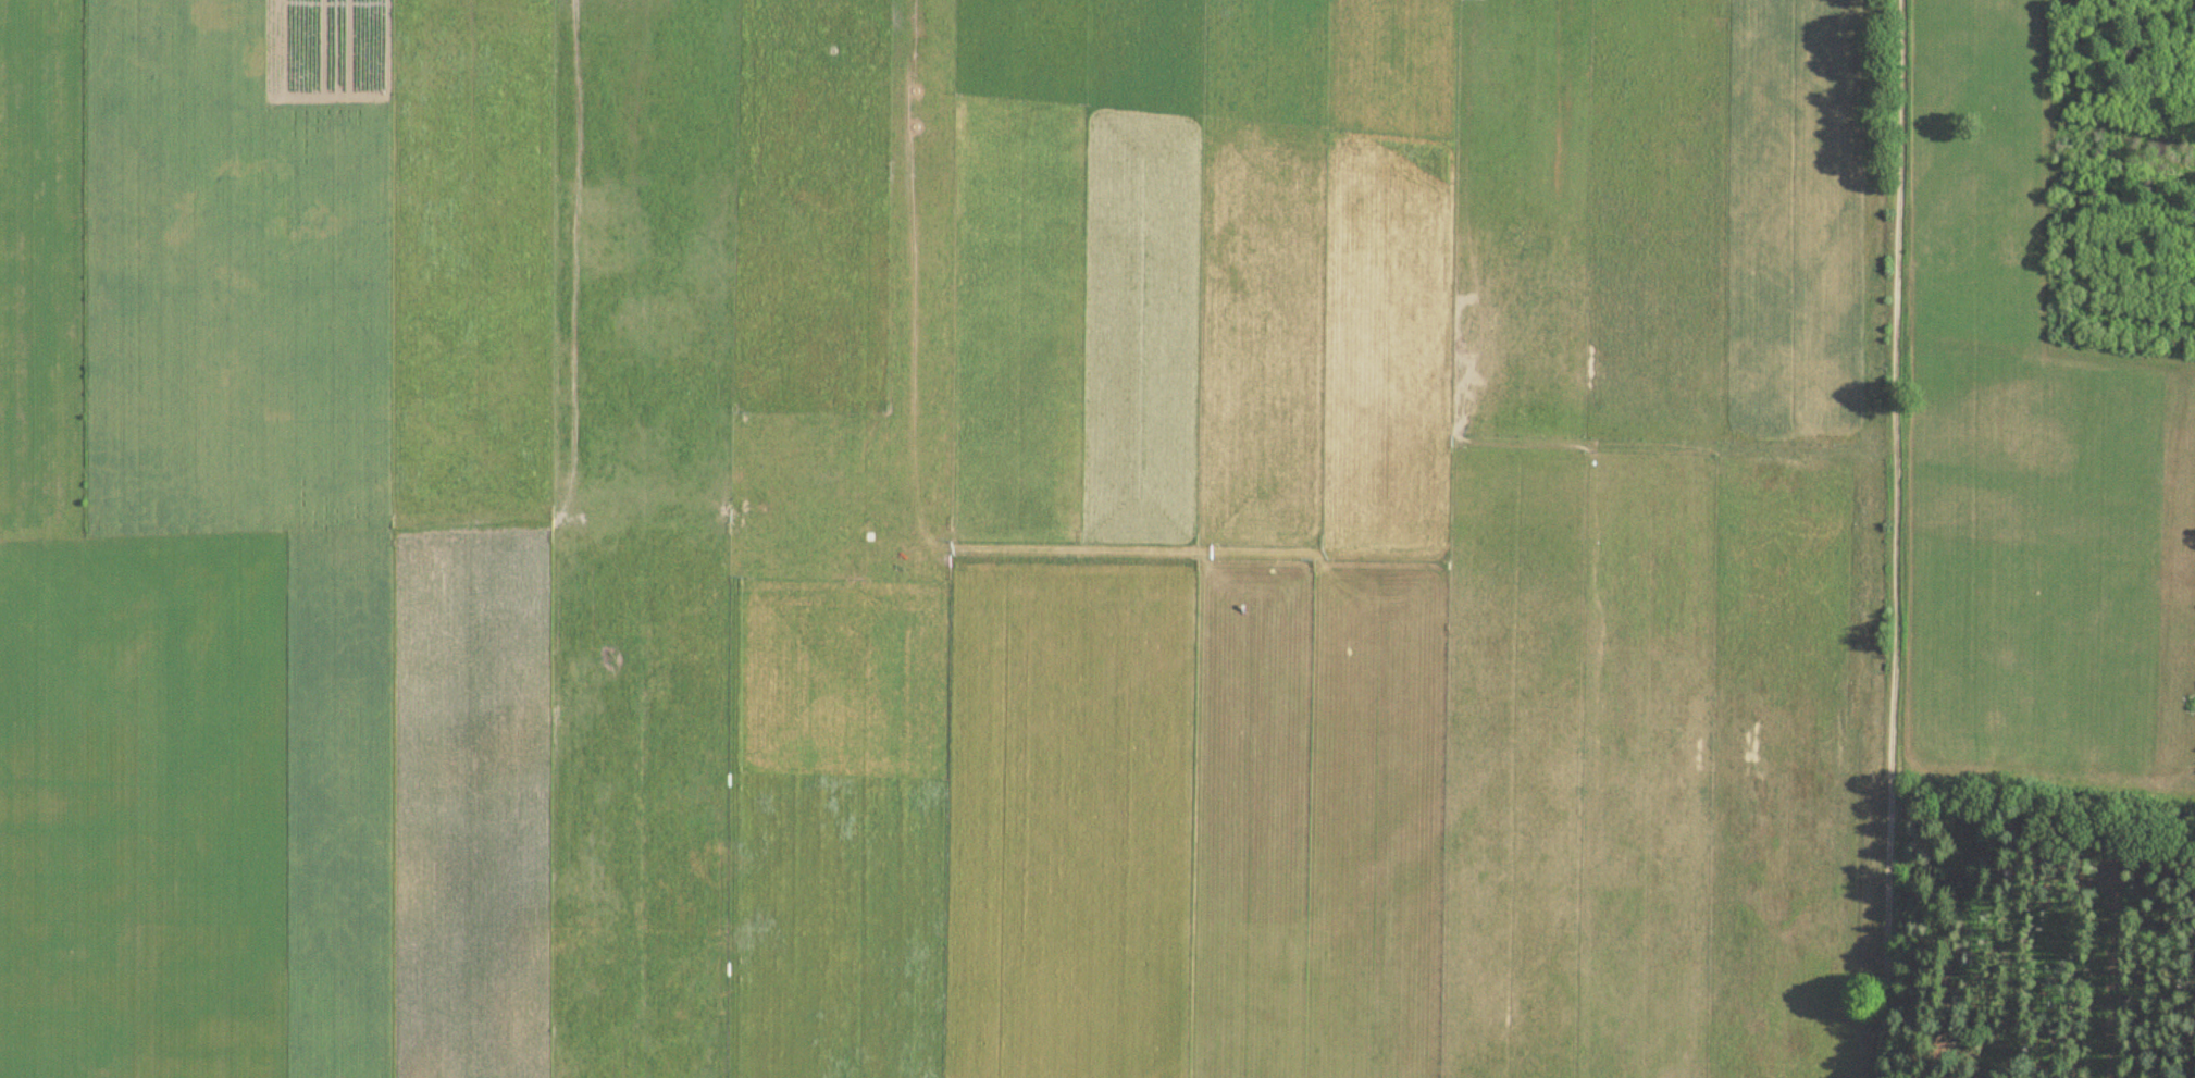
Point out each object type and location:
road: (1888, 538)

